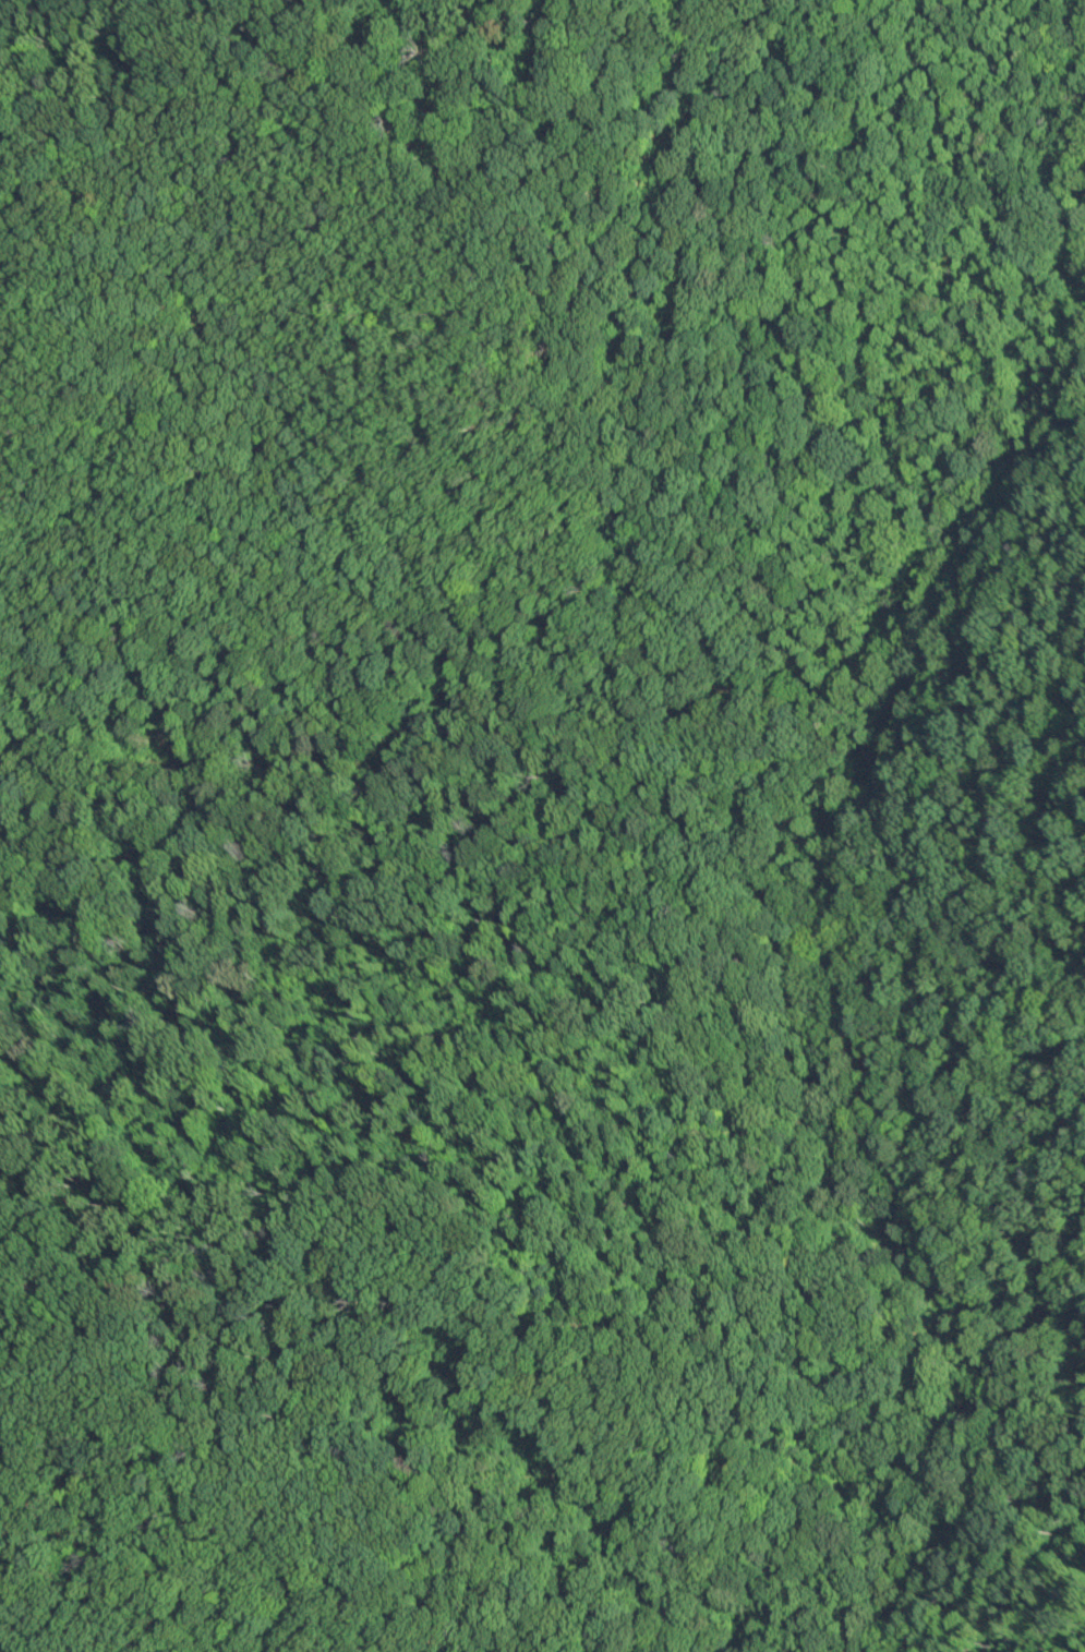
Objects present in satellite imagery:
road: (825, 1034)

